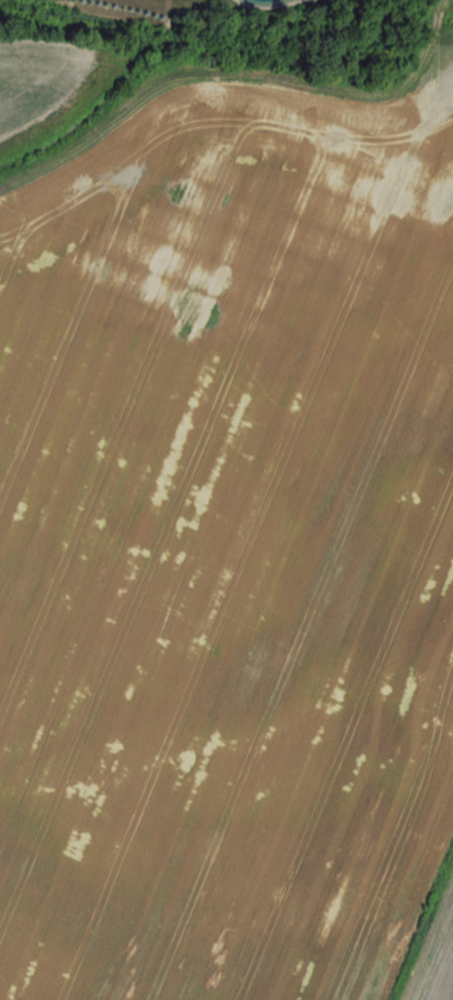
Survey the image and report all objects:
crop: (227, 560)

